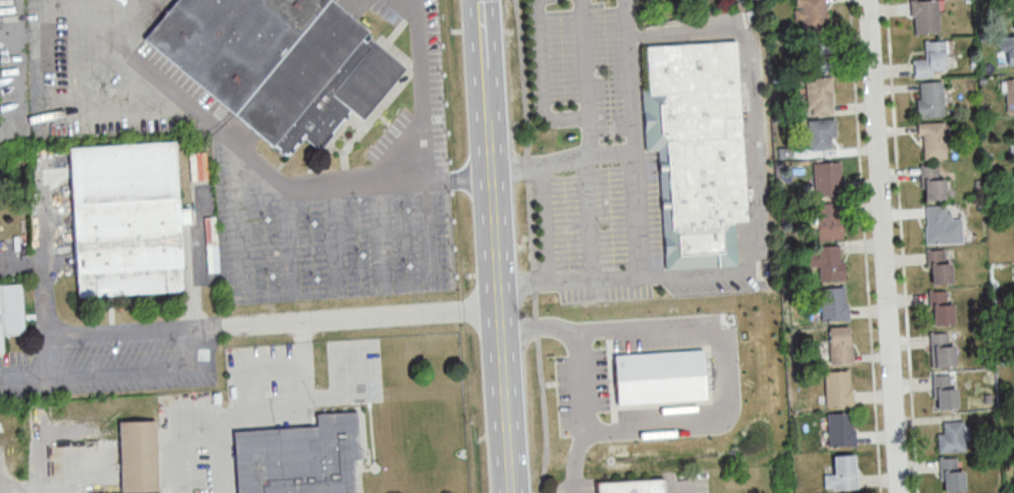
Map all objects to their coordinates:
road: (86, 10)
road: (65, 12)
building: (1012, 14)
building: (809, 16)
building: (923, 17)
road: (484, 34)
building: (1007, 52)
building: (819, 55)
road: (584, 57)
building: (930, 60)
building: (276, 63)
road: (153, 64)
road: (489, 94)
building: (1009, 94)
road: (632, 95)
building: (818, 97)
building: (928, 100)
road: (580, 115)
building: (820, 135)
building: (931, 141)
building: (695, 150)
road: (459, 175)
building: (1013, 176)
road: (397, 179)
building: (825, 180)
building: (931, 183)
road: (637, 193)
road: (760, 196)
building: (125, 219)
building: (827, 221)
road: (544, 223)
building: (938, 225)
road: (883, 246)
road: (532, 247)
building: (826, 263)
building: (938, 267)
building: (1013, 267)
building: (832, 304)
road: (503, 305)
building: (939, 308)
building: (11, 311)
road: (280, 321)
building: (835, 347)
building: (940, 349)
road: (726, 367)
road: (247, 369)
road: (587, 381)
building: (710, 387)
building: (837, 389)
building: (943, 391)
road: (249, 415)
building: (839, 429)
building: (951, 437)
building: (139, 456)
building: (304, 459)
building: (841, 473)
building: (951, 475)
road: (68, 479)
road: (685, 485)
building: (631, 486)

